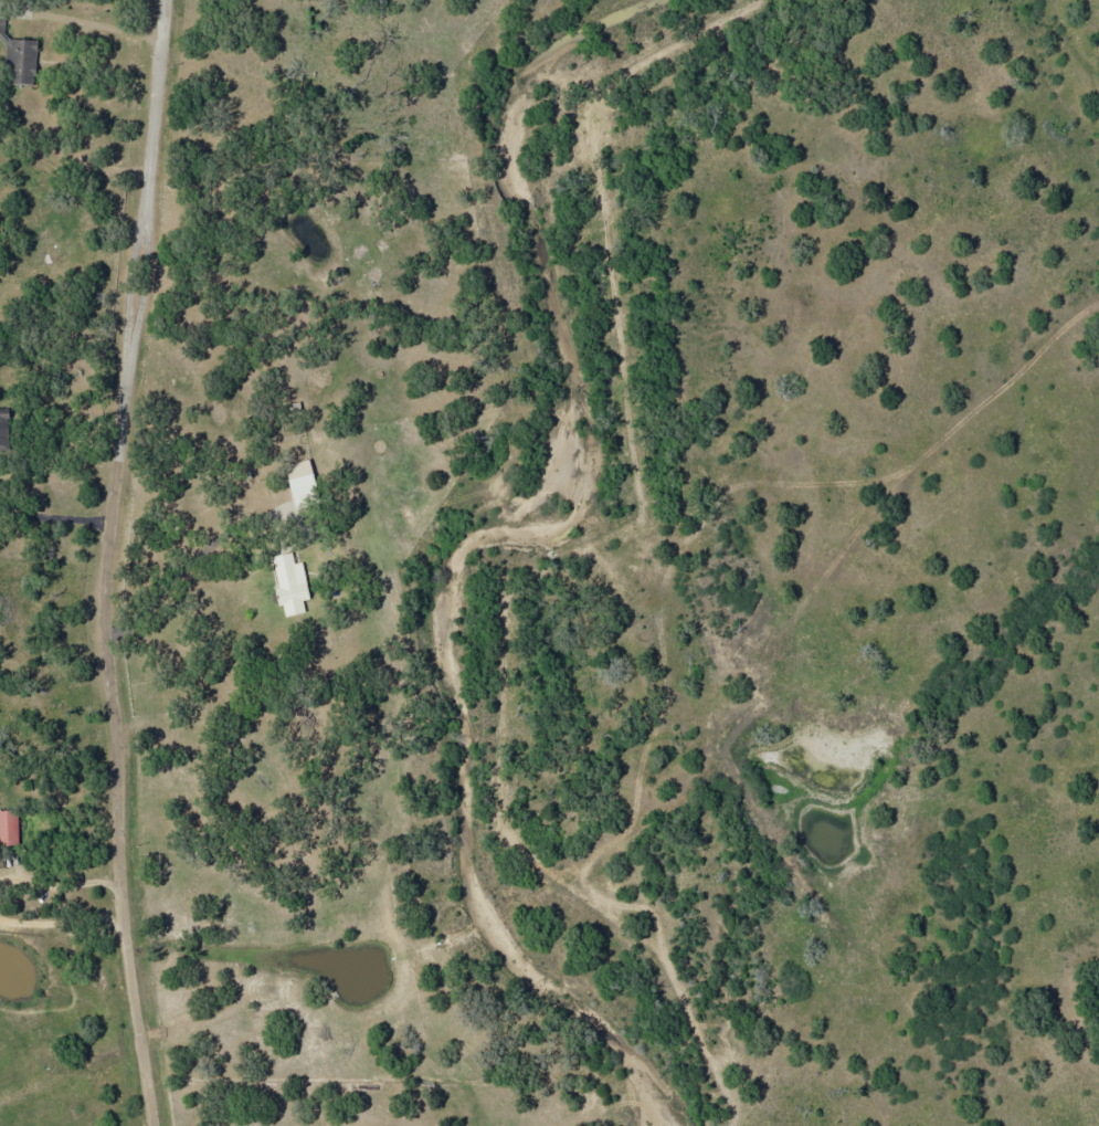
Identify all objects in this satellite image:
road: (1077, 304)
building: (3, 427)
building: (302, 481)
road: (114, 562)
building: (290, 583)
building: (9, 828)

